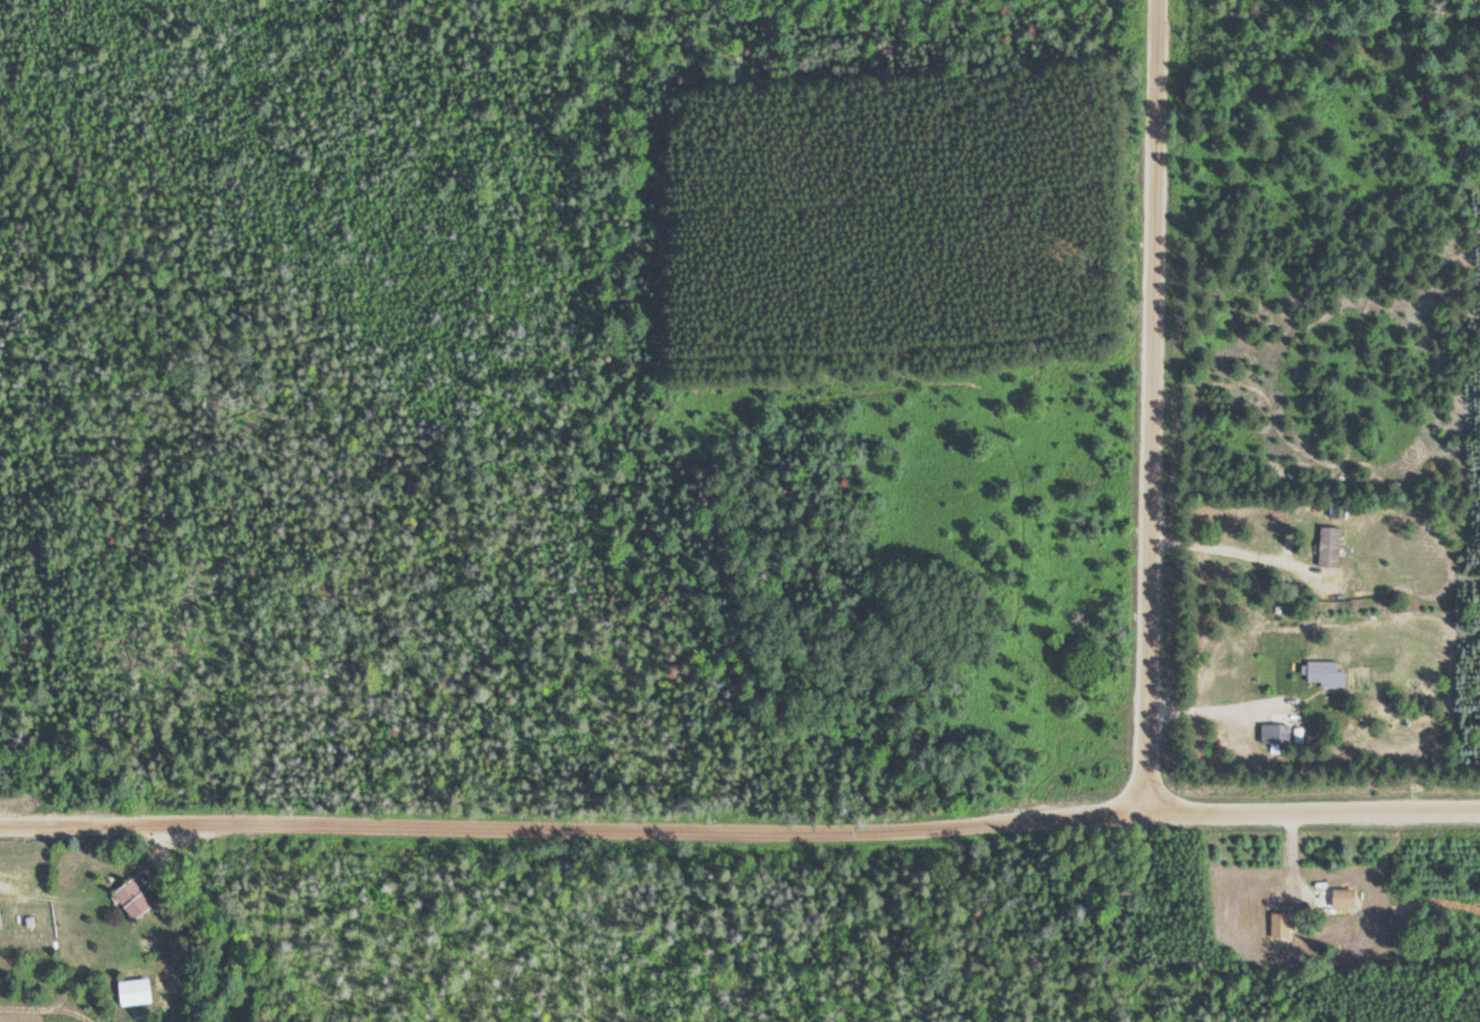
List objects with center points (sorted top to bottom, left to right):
road: (1155, 270)
building: (1331, 508)
building: (1326, 545)
road: (1246, 550)
building: (1322, 673)
road: (1150, 678)
building: (1272, 733)
road: (740, 831)
building: (1340, 897)
building: (130, 898)
building: (1277, 924)
building: (131, 991)

